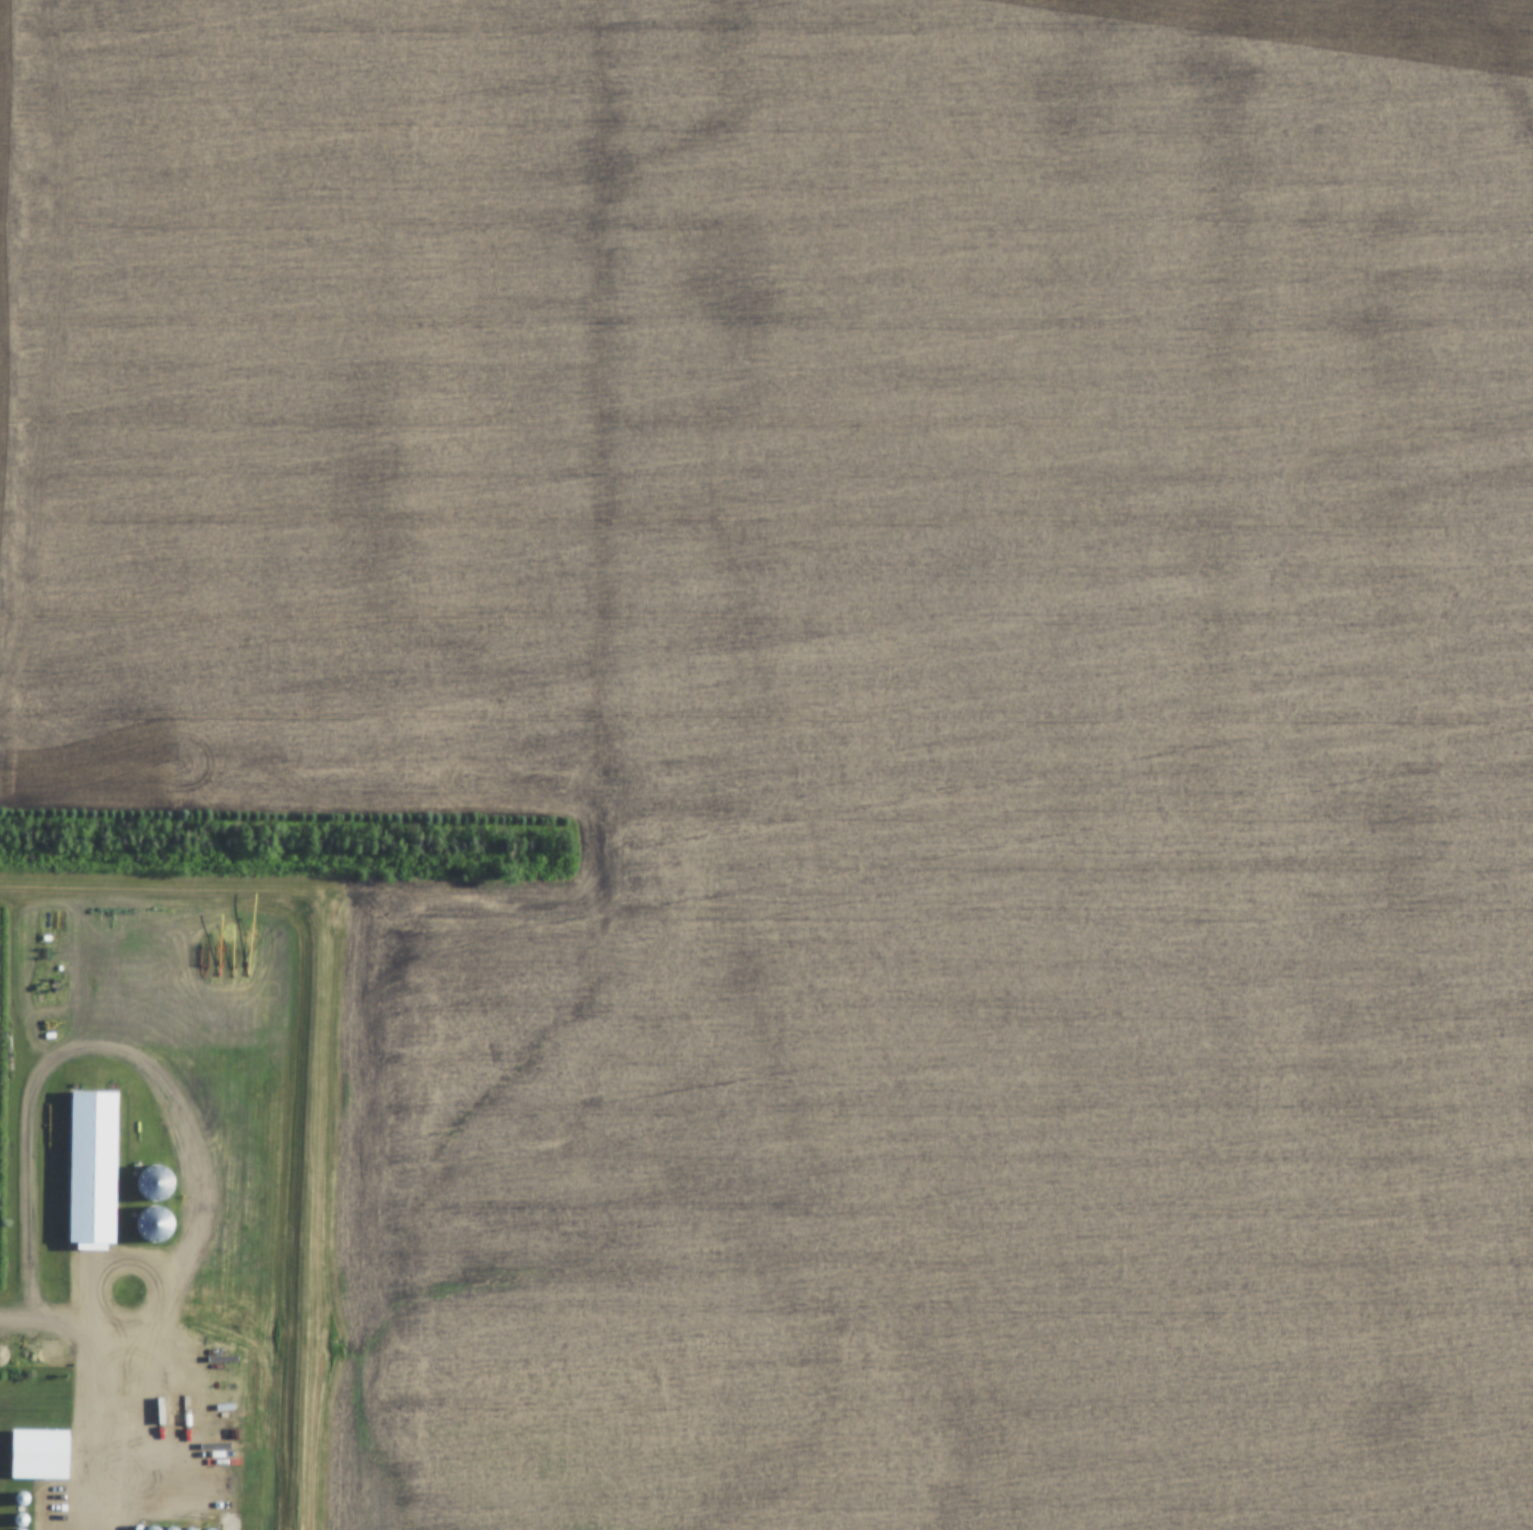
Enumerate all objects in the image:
road: (84, 1045)
building: (97, 1168)
road: (106, 1317)
road: (51, 1321)
road: (129, 1386)
building: (44, 1453)
road: (123, 1488)

